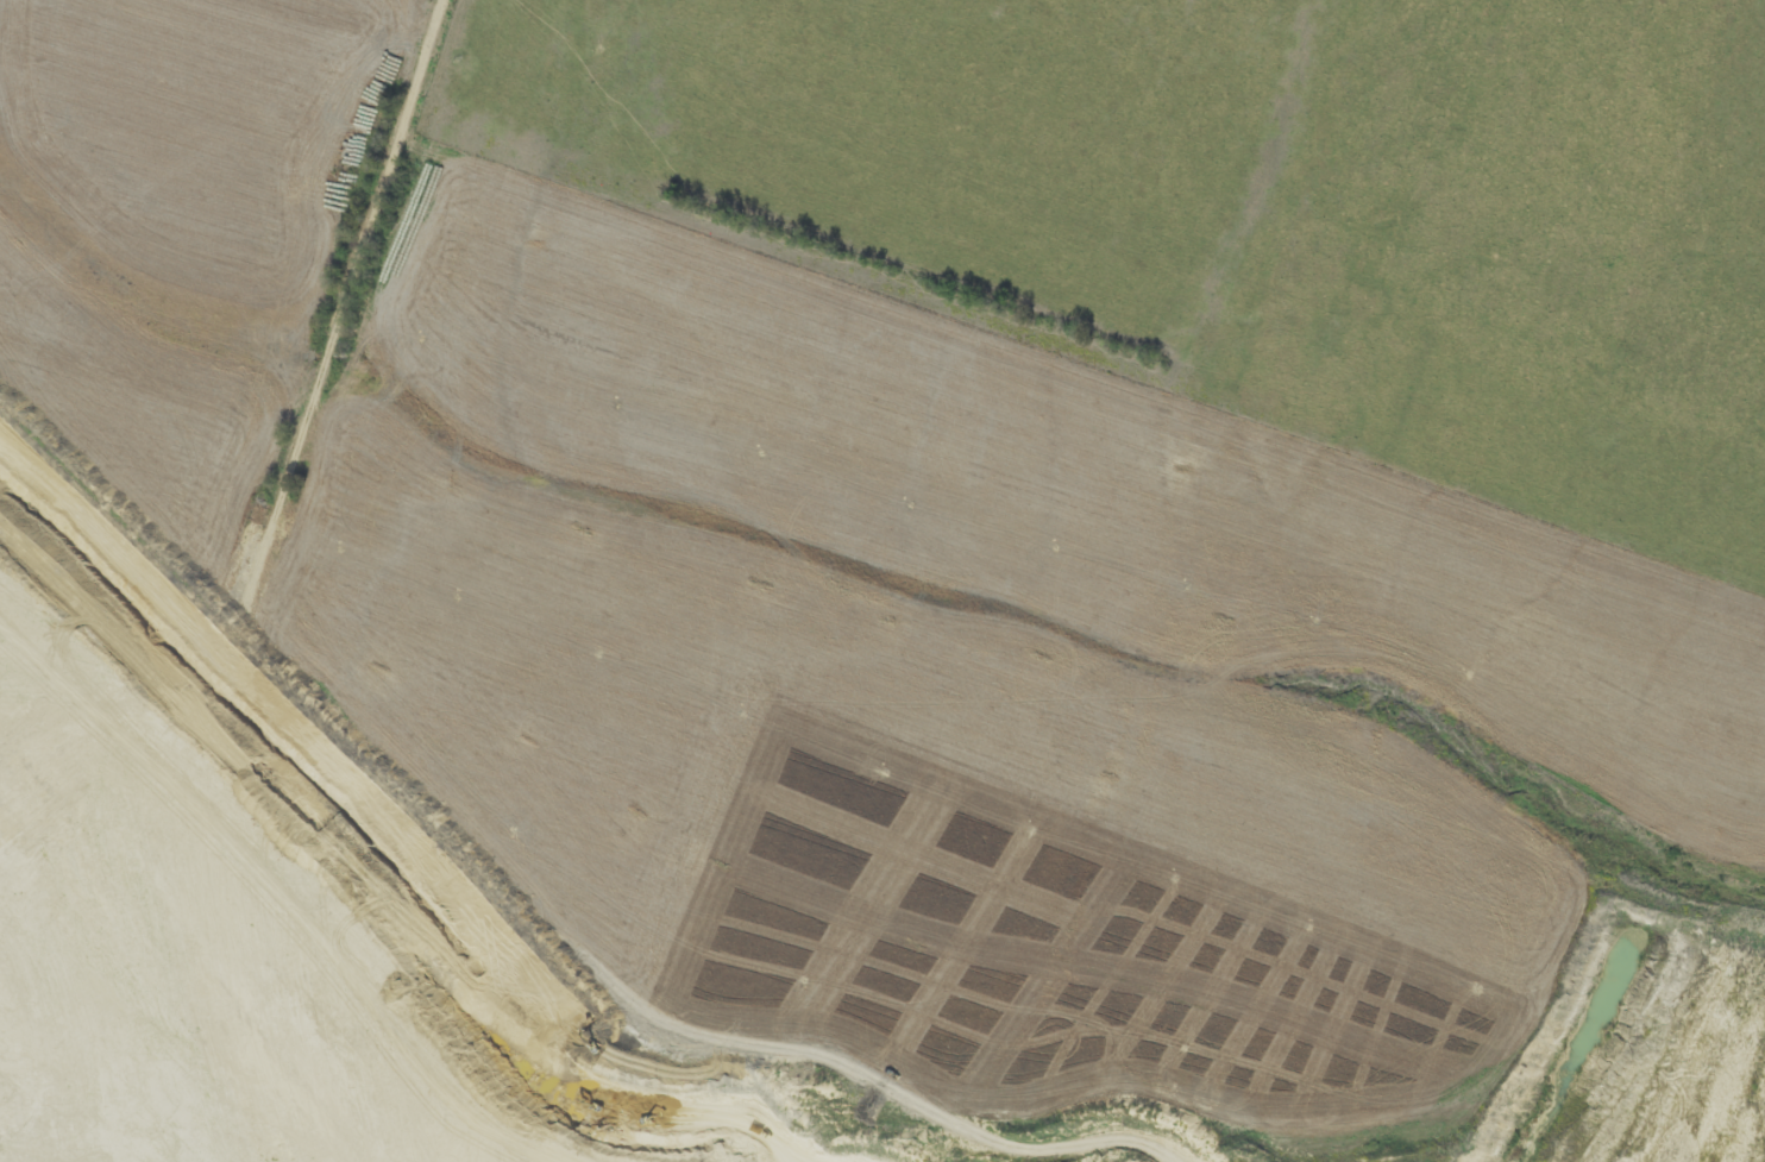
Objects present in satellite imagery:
road: (343, 362)
road: (263, 896)

